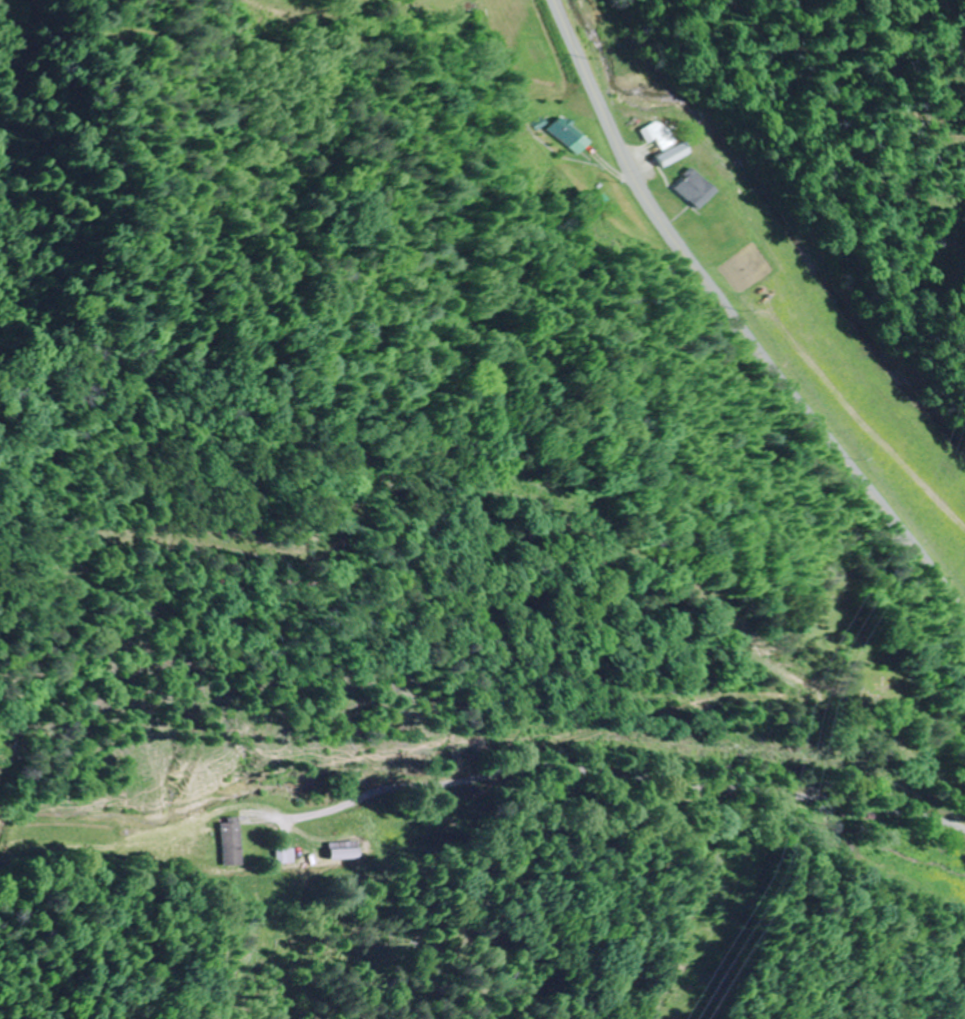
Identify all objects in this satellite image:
building: (652, 133)
building: (566, 136)
building: (667, 153)
building: (688, 187)
road: (734, 335)
road: (650, 786)
building: (231, 842)
building: (342, 850)
building: (285, 855)

